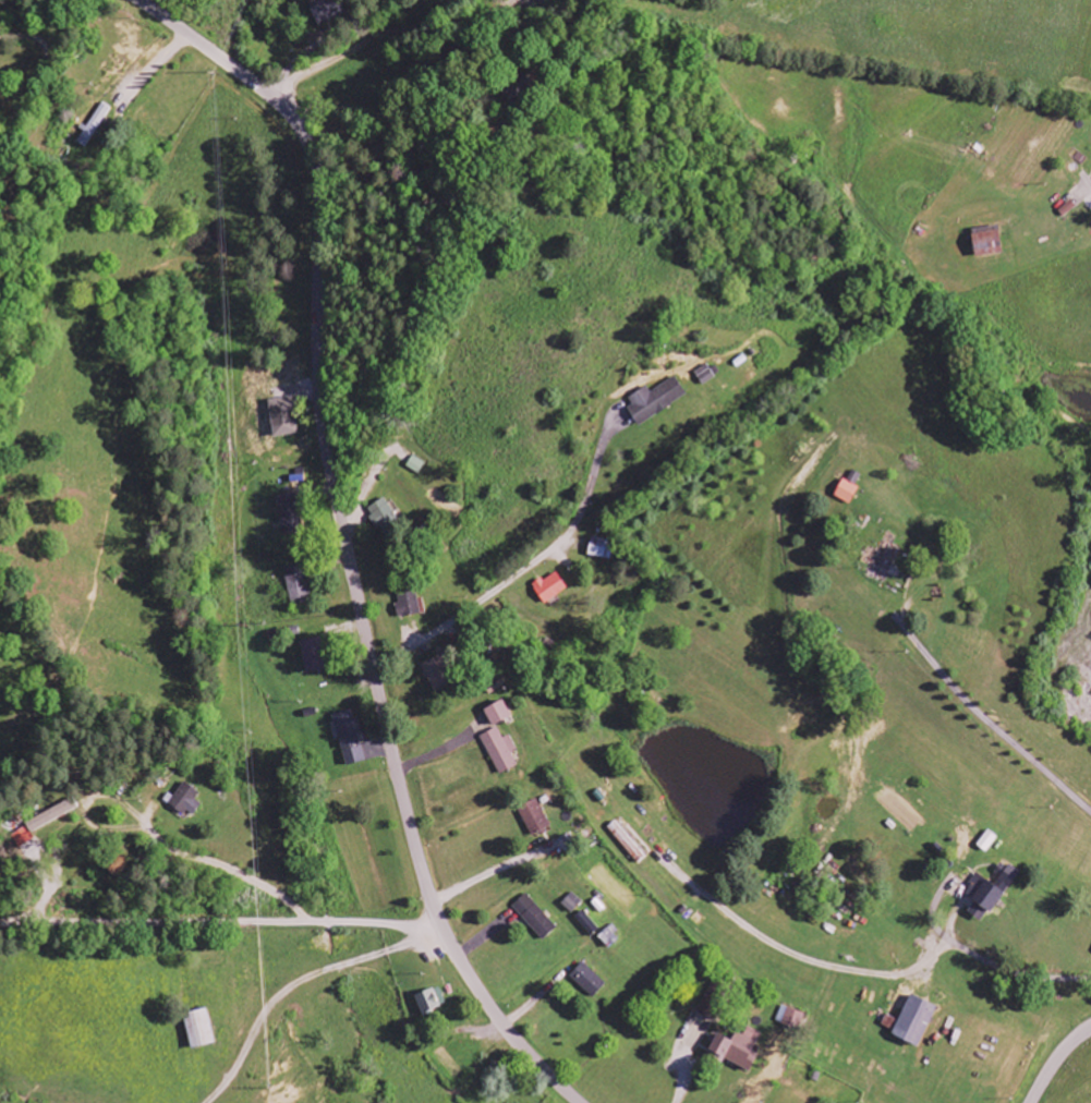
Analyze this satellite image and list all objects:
building: (327, 11)
road: (39, 76)
building: (513, 85)
road: (1090, 184)
building: (986, 242)
building: (655, 400)
building: (283, 416)
building: (415, 465)
building: (853, 477)
building: (846, 492)
building: (290, 513)
building: (383, 516)
road: (344, 538)
building: (602, 548)
building: (881, 561)
road: (525, 571)
building: (298, 584)
building: (550, 587)
building: (409, 604)
building: (313, 655)
building: (437, 674)
building: (497, 713)
road: (987, 719)
building: (350, 738)
building: (499, 751)
building: (52, 815)
building: (533, 817)
building: (990, 892)
building: (572, 902)
building: (534, 918)
road: (221, 923)
building: (585, 924)
building: (608, 938)
road: (1010, 968)
building: (587, 981)
building: (431, 1001)
building: (708, 1007)
building: (790, 1018)
building: (911, 1021)
building: (198, 1030)
building: (737, 1049)
road: (1057, 1063)

